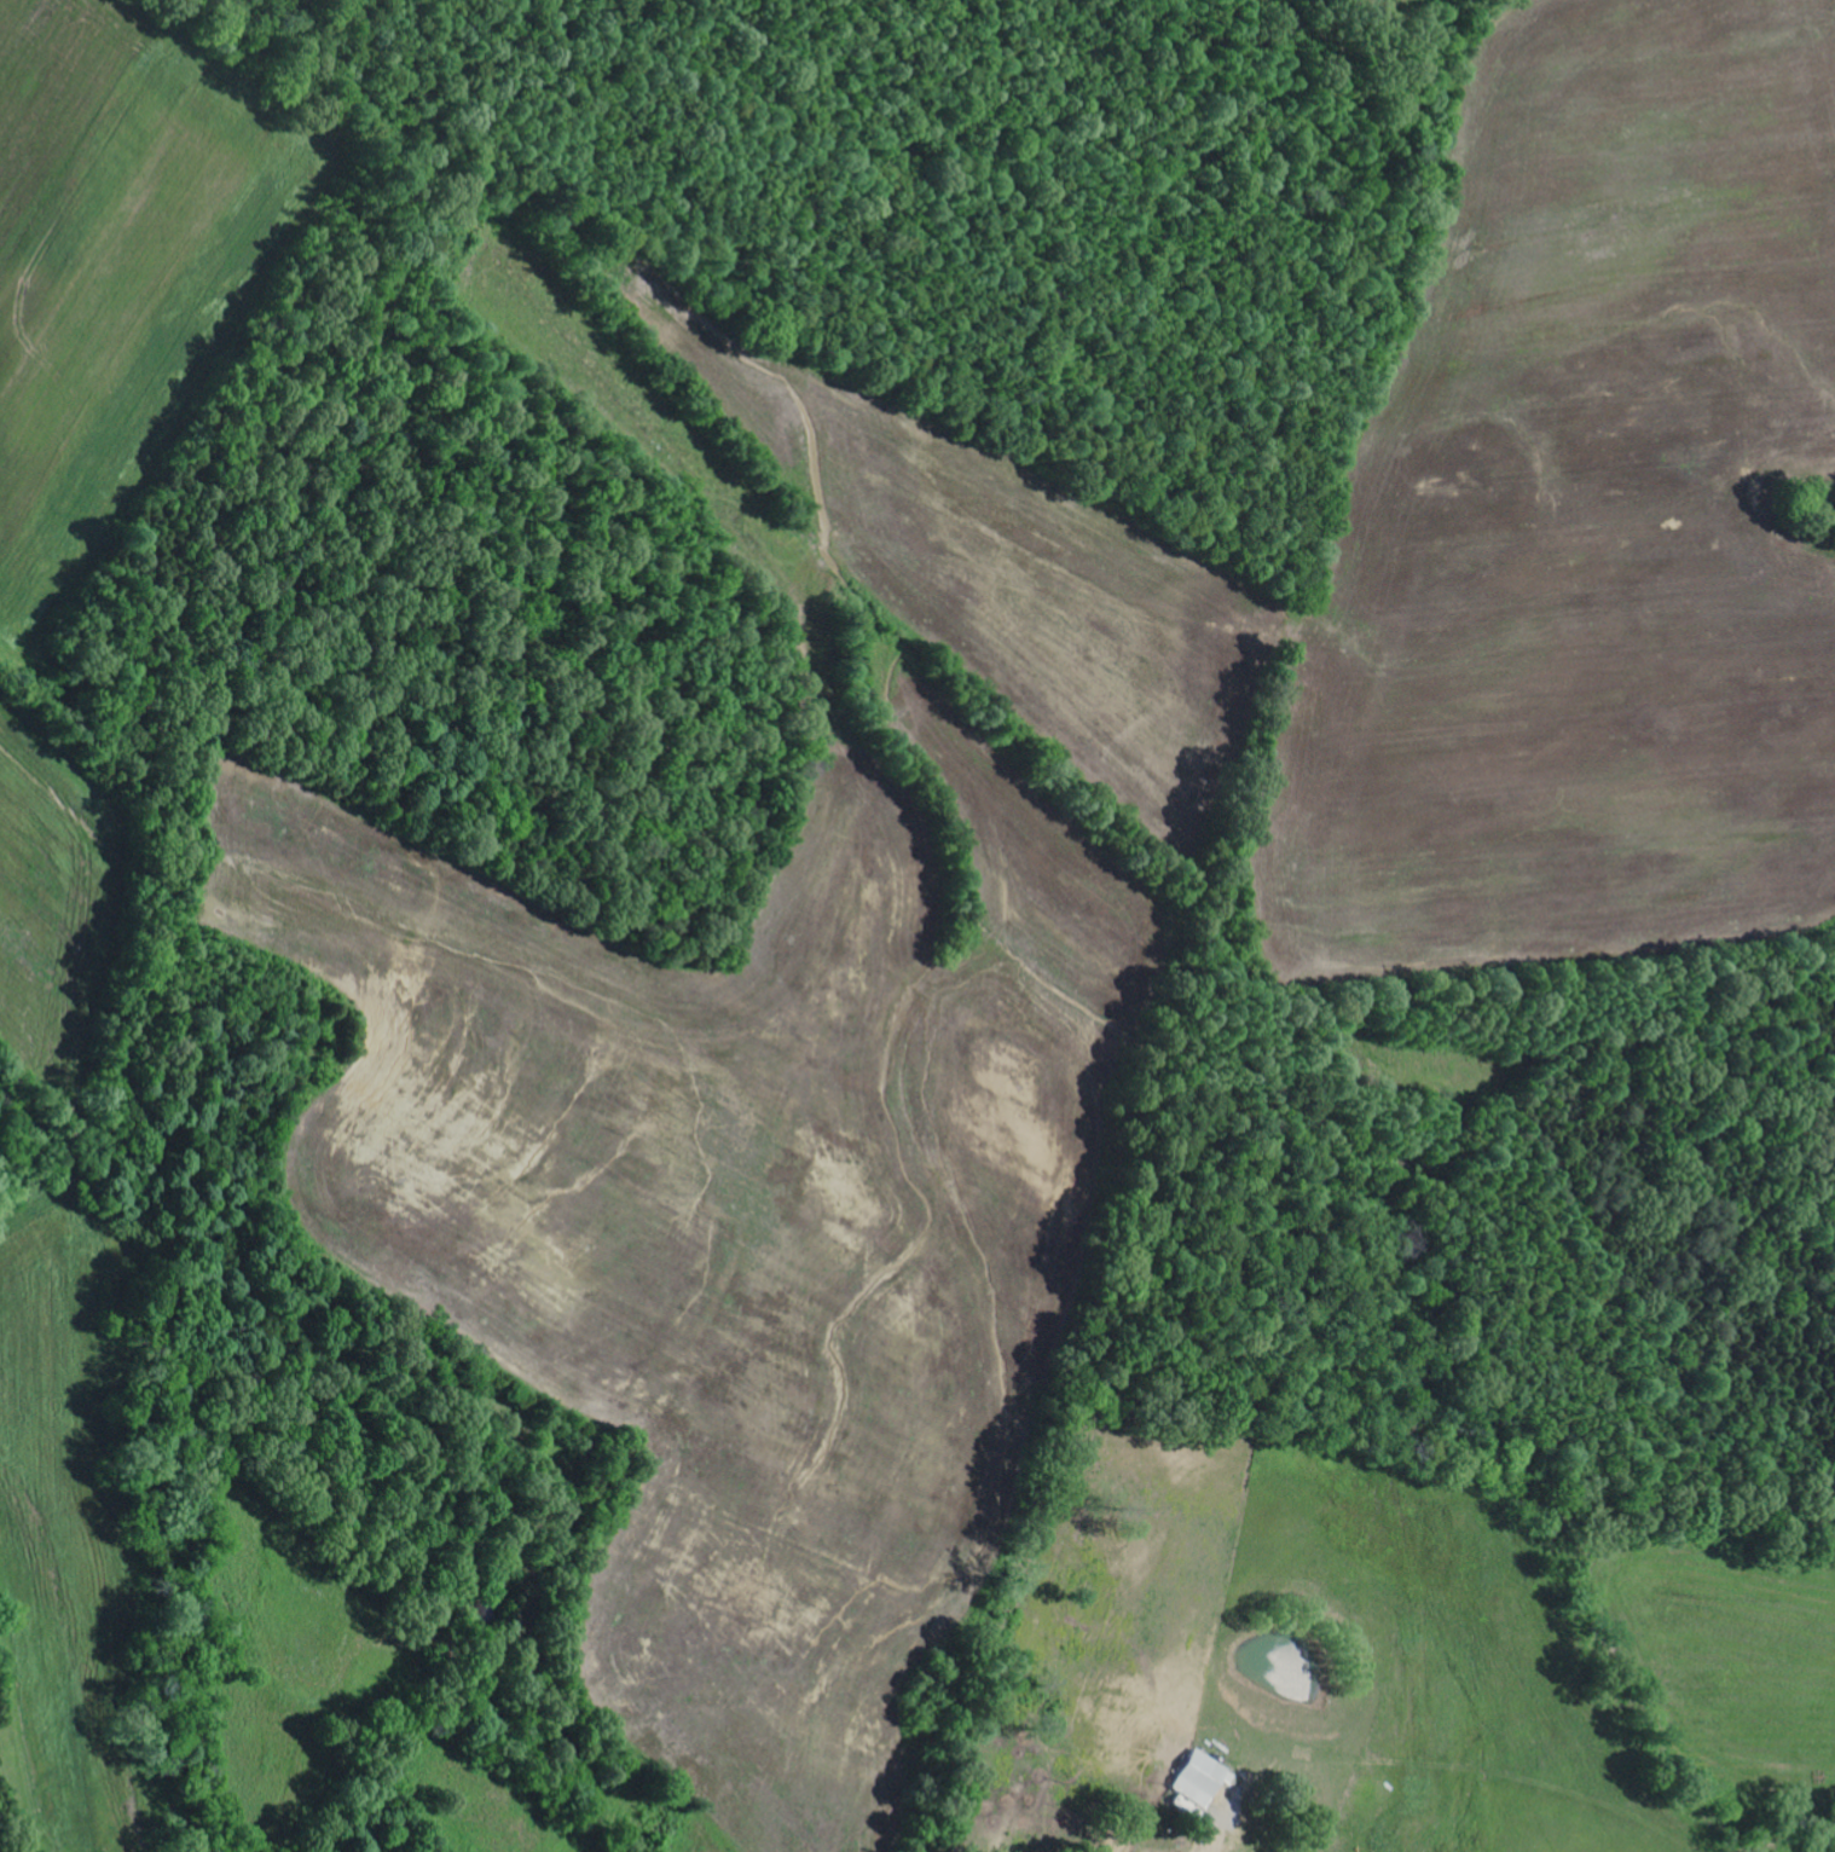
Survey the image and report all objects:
park: (1400, 13)
road: (888, 1510)
building: (1205, 1779)

